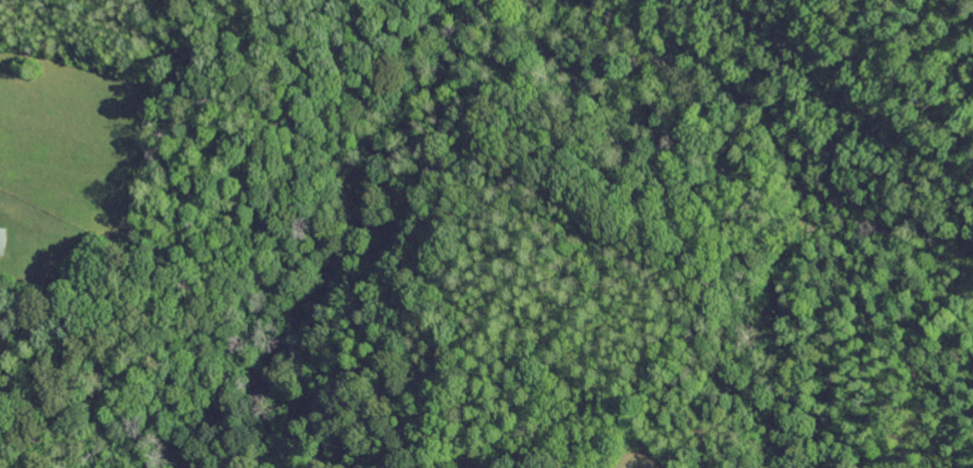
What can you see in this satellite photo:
building: (4, 242)

